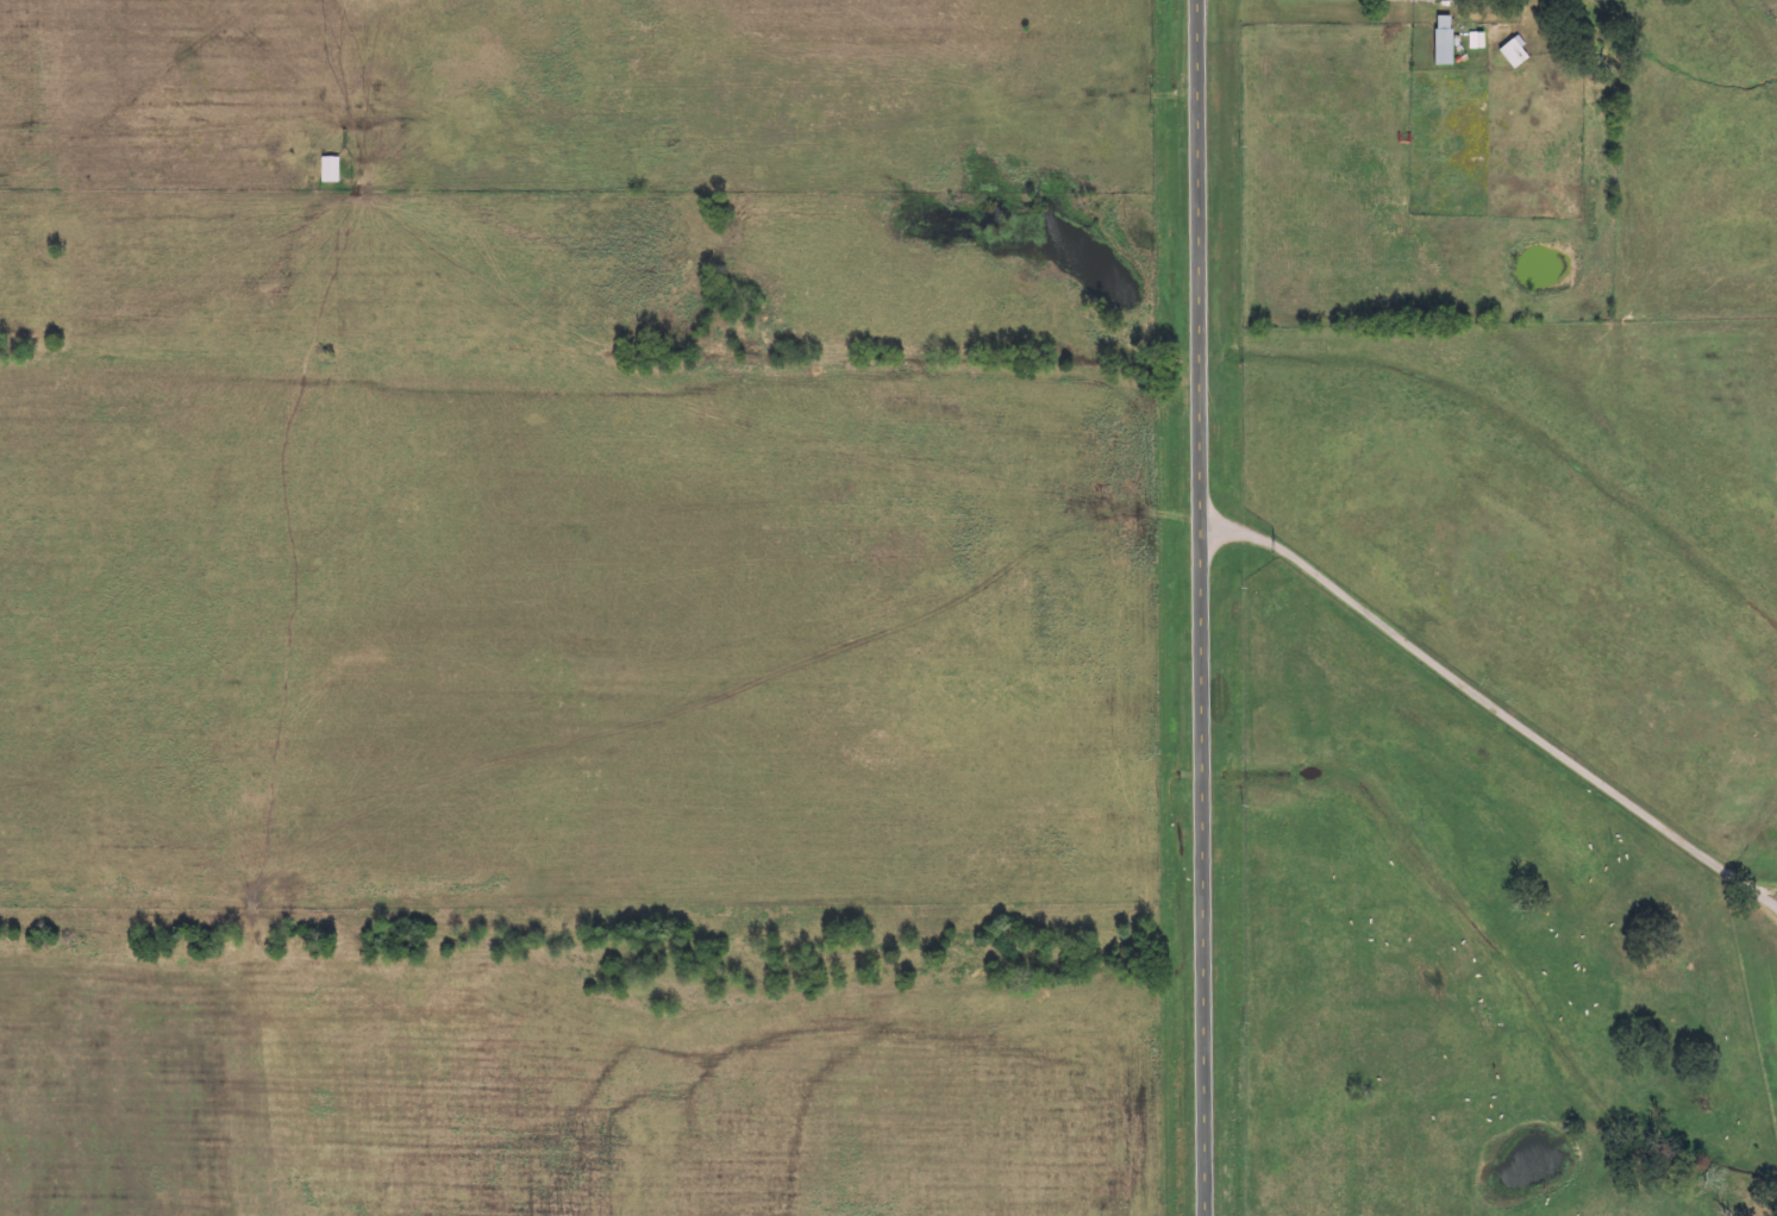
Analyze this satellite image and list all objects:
road: (1362, 2)
building: (1445, 39)
building: (331, 169)
road: (1201, 607)
road: (1494, 704)

